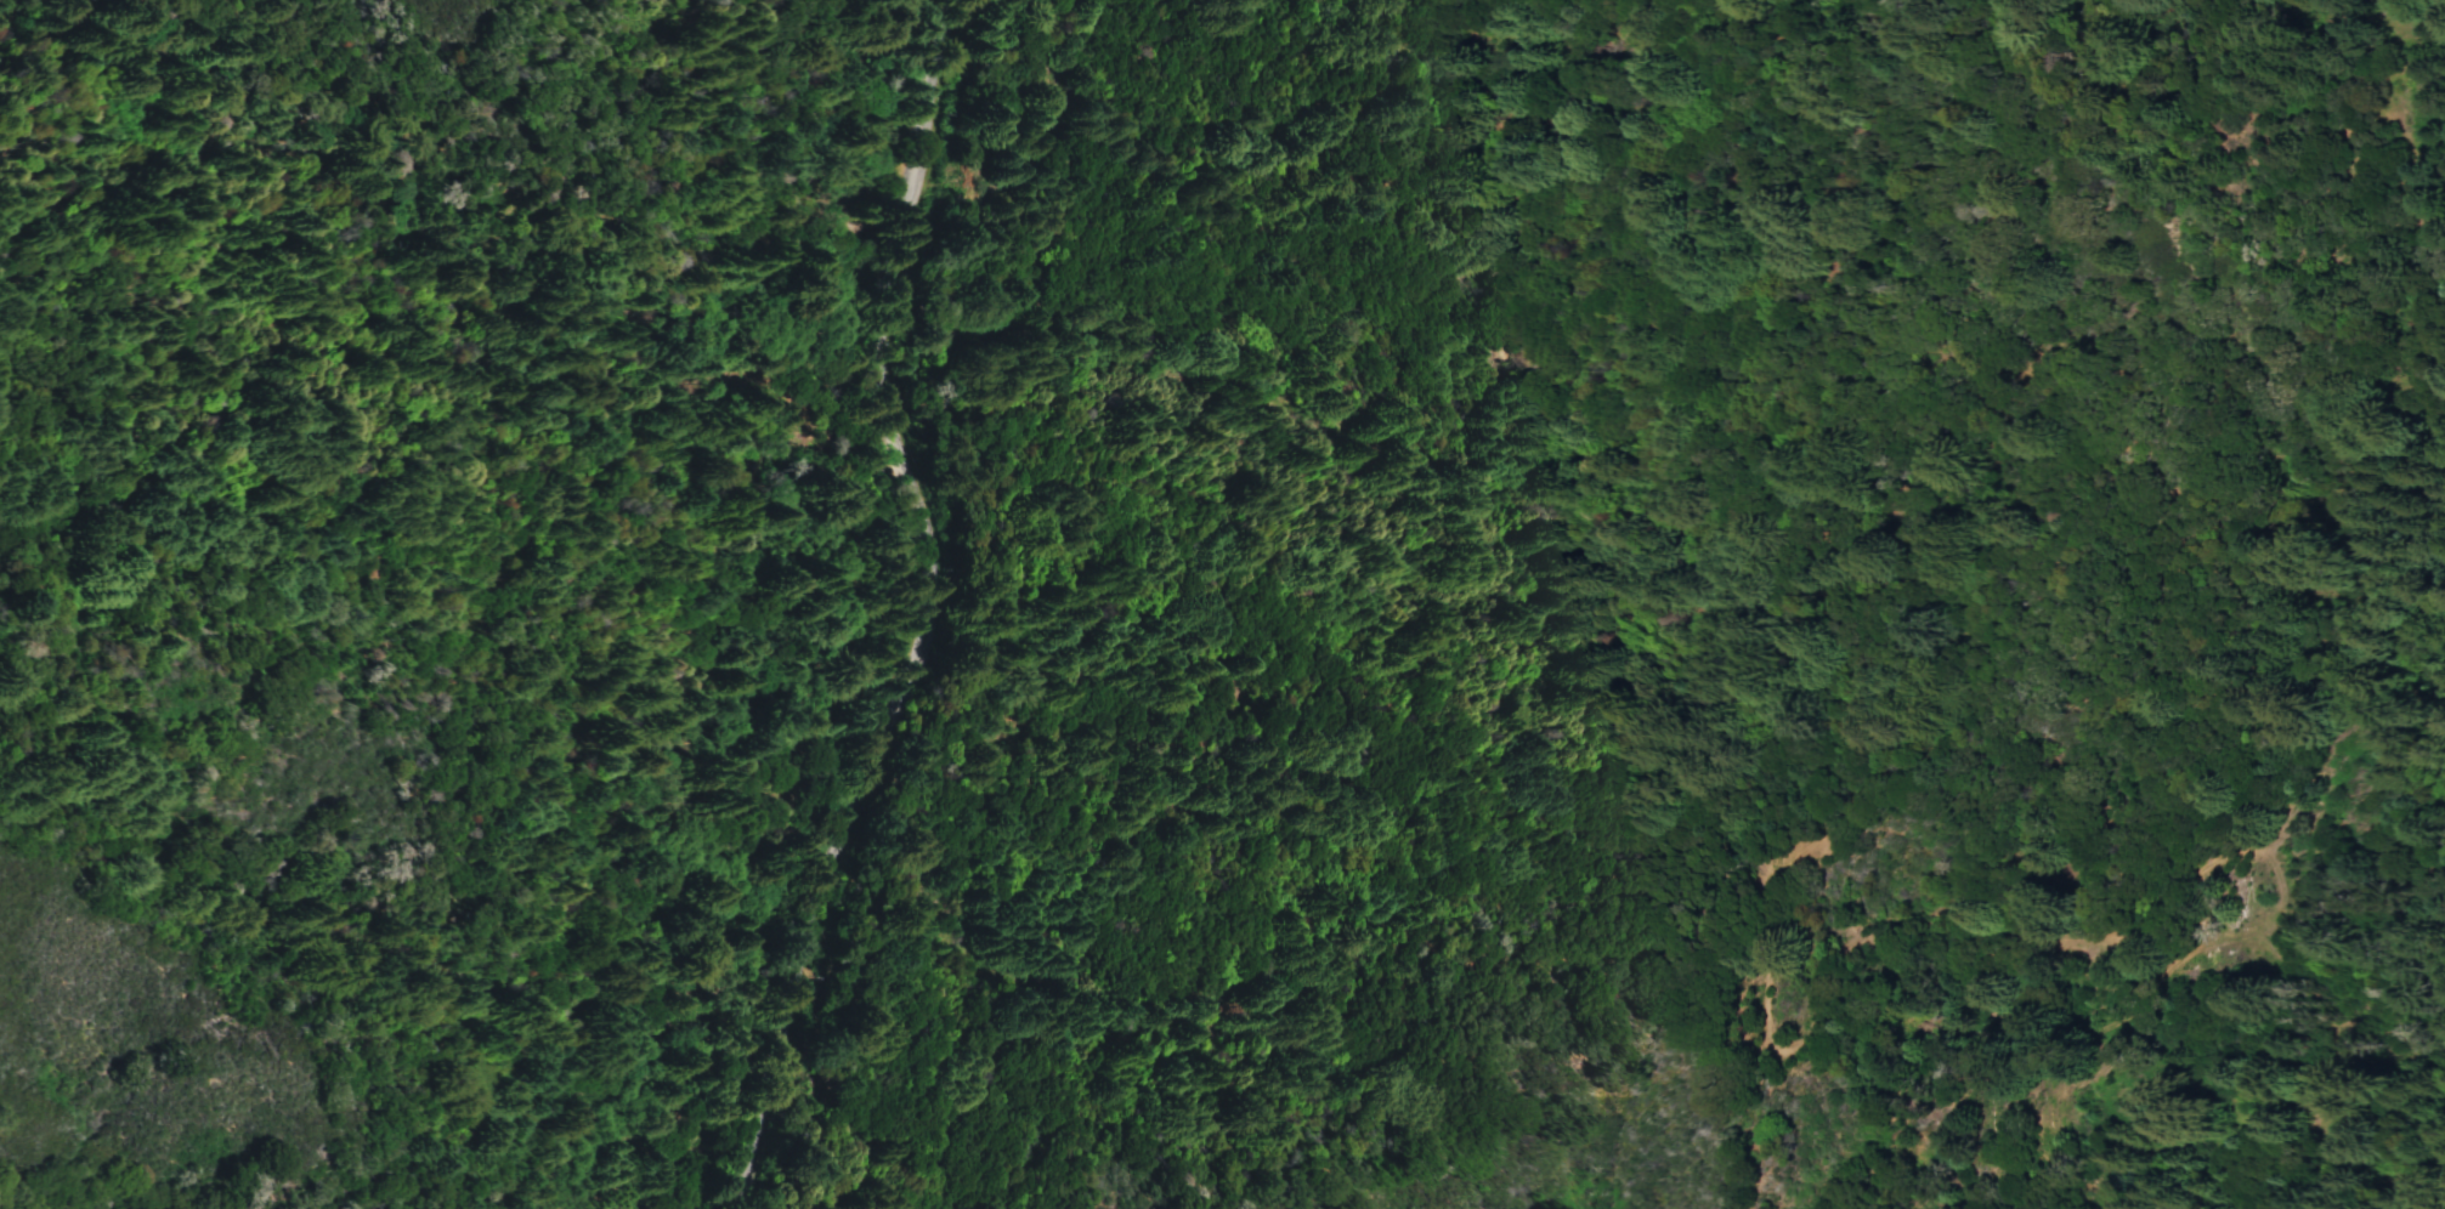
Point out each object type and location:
road: (933, 613)
road: (1725, 944)
road: (2325, 1044)

